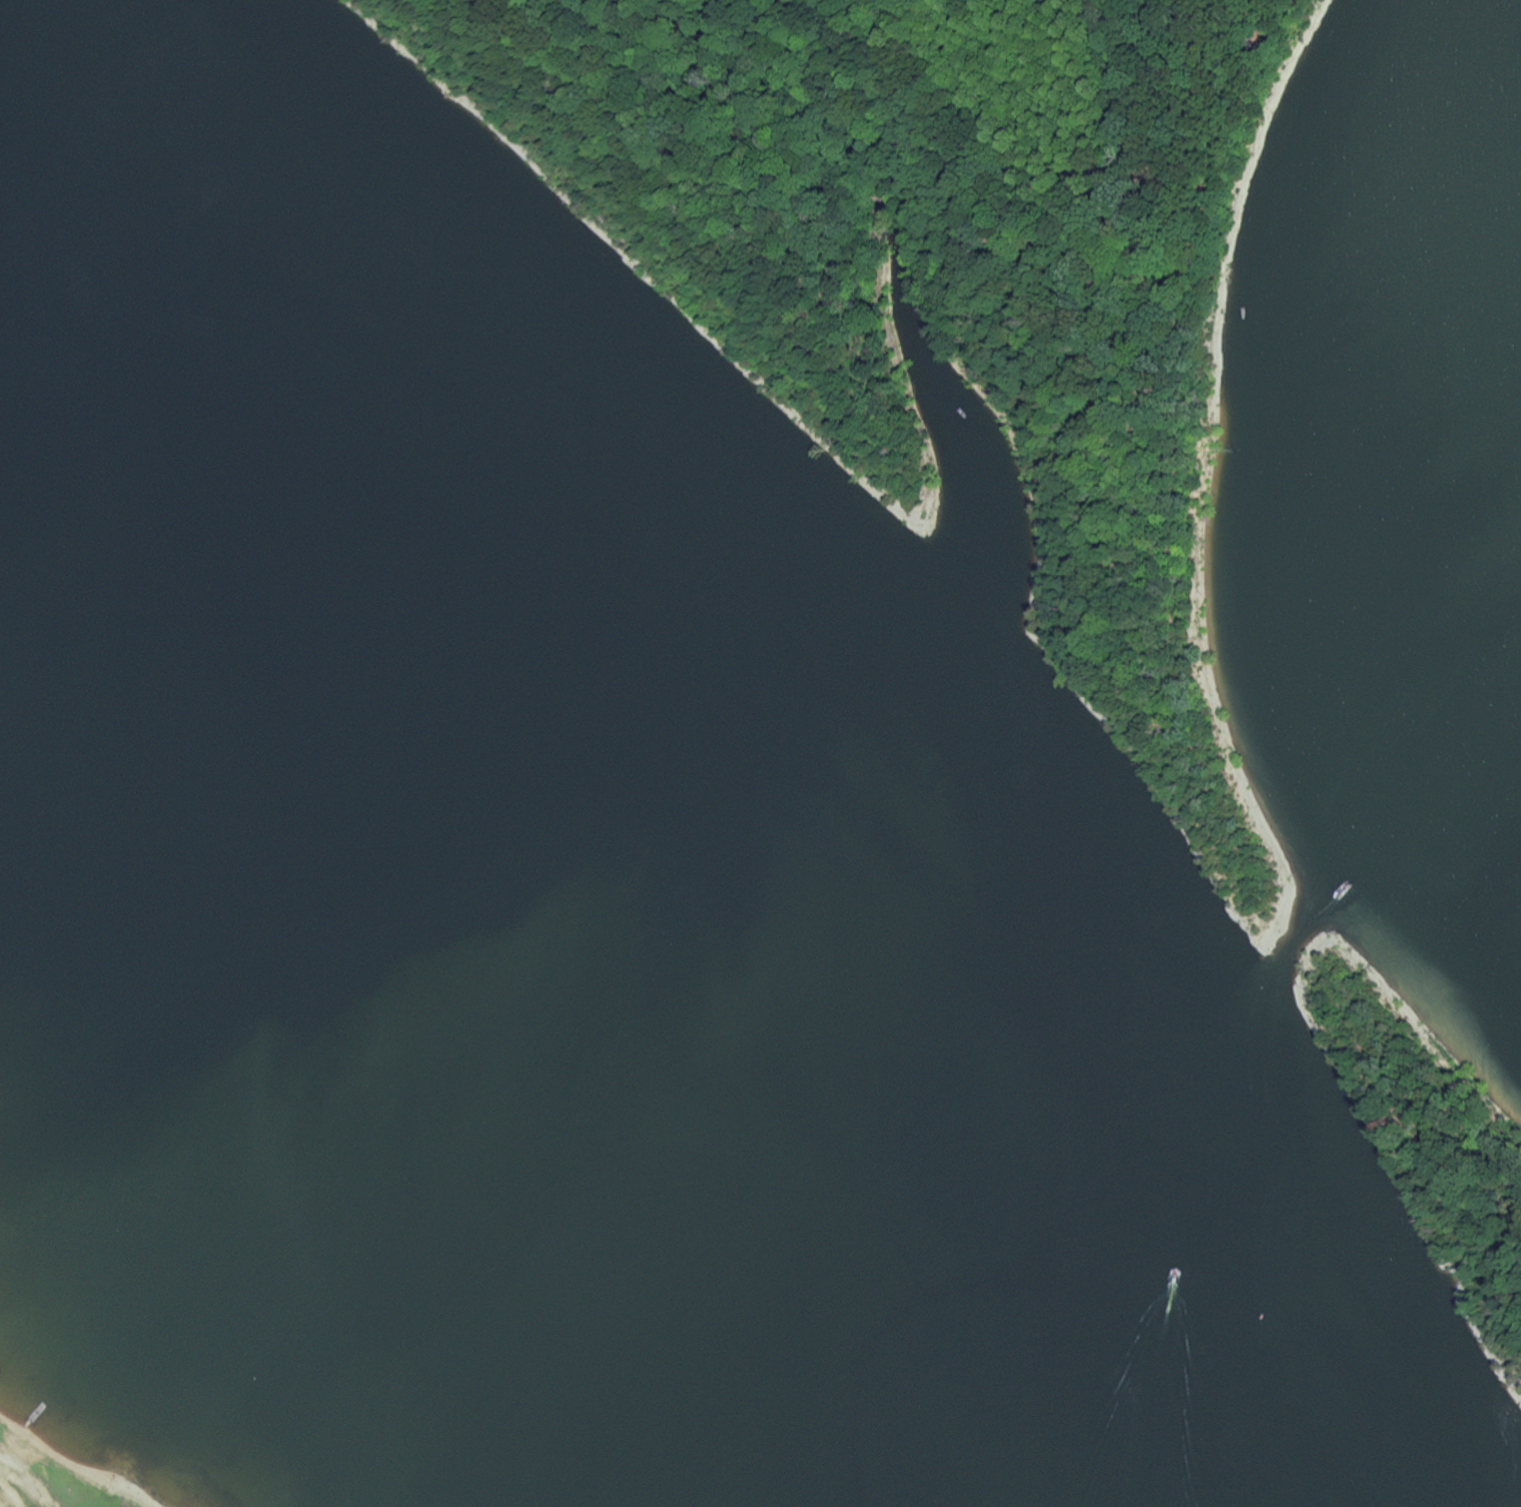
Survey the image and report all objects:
park: (63, 1471)

